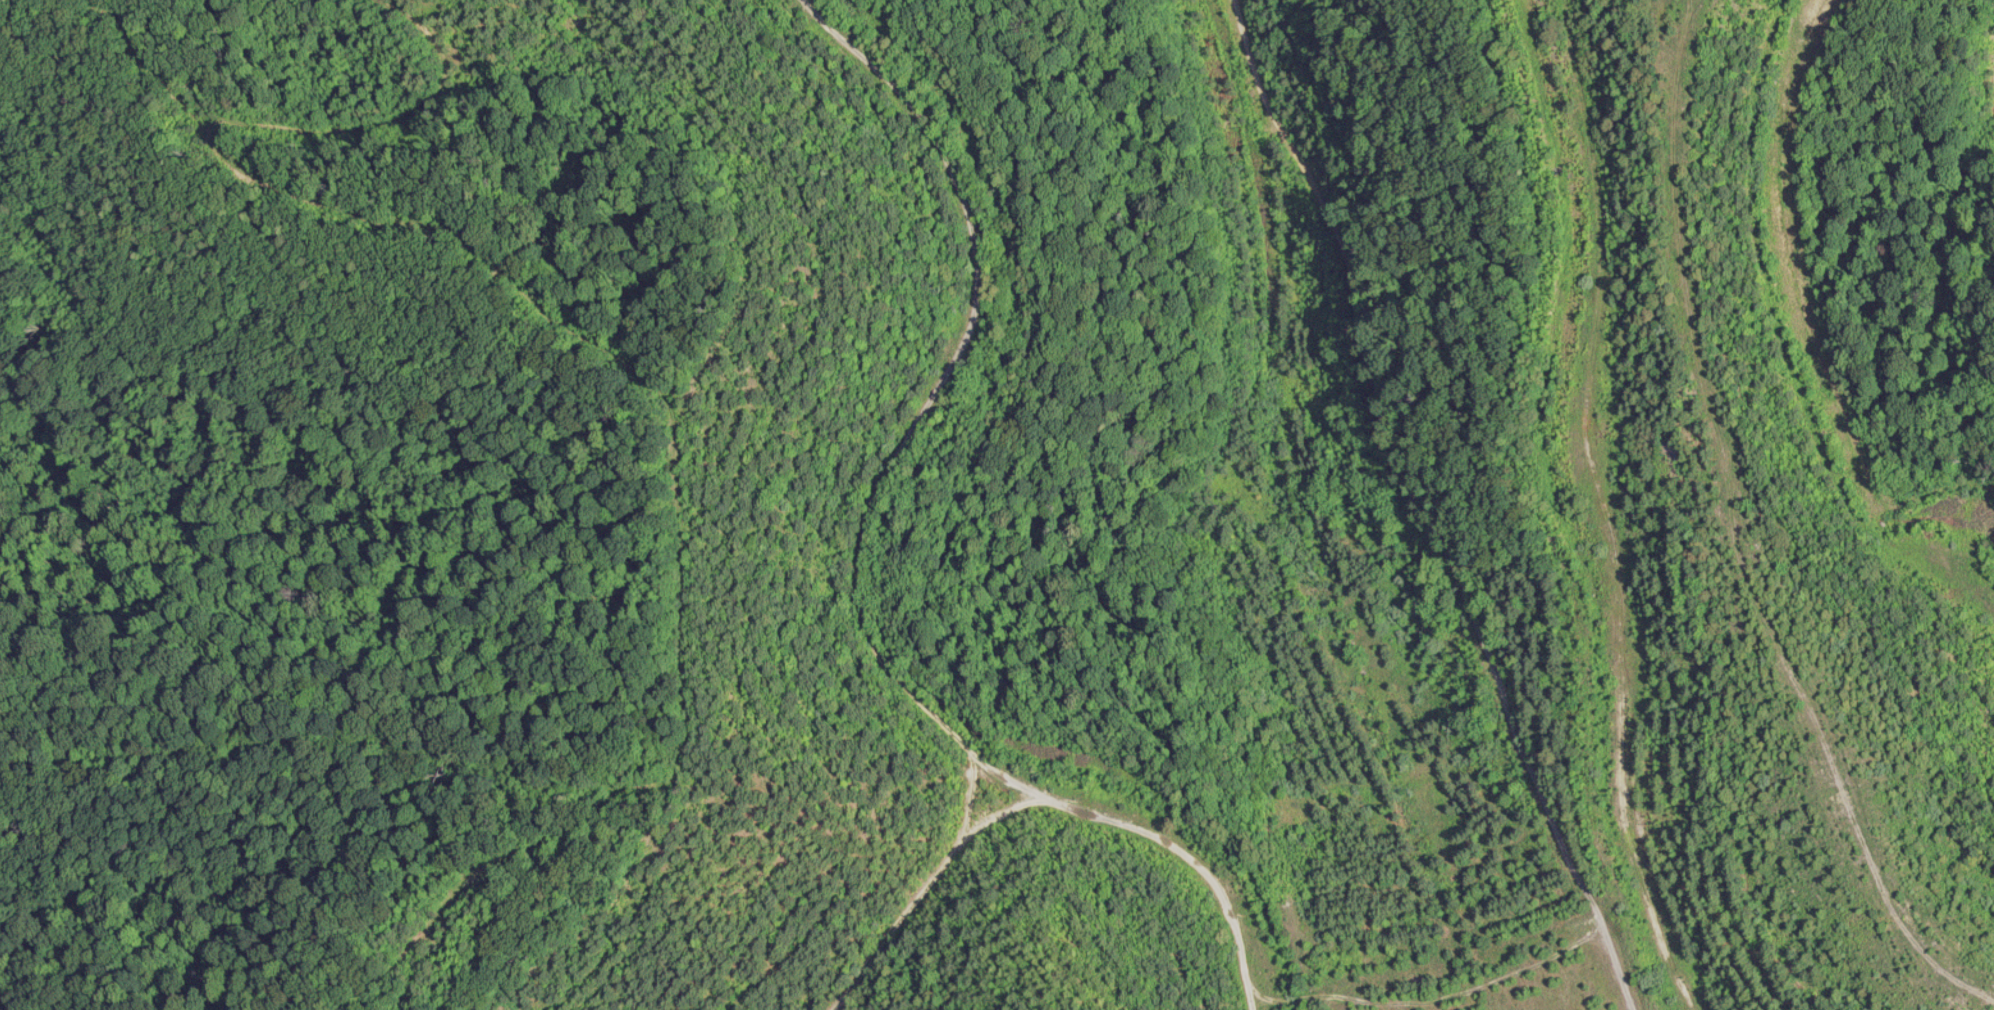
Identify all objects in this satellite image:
quarry: (997, 505)

